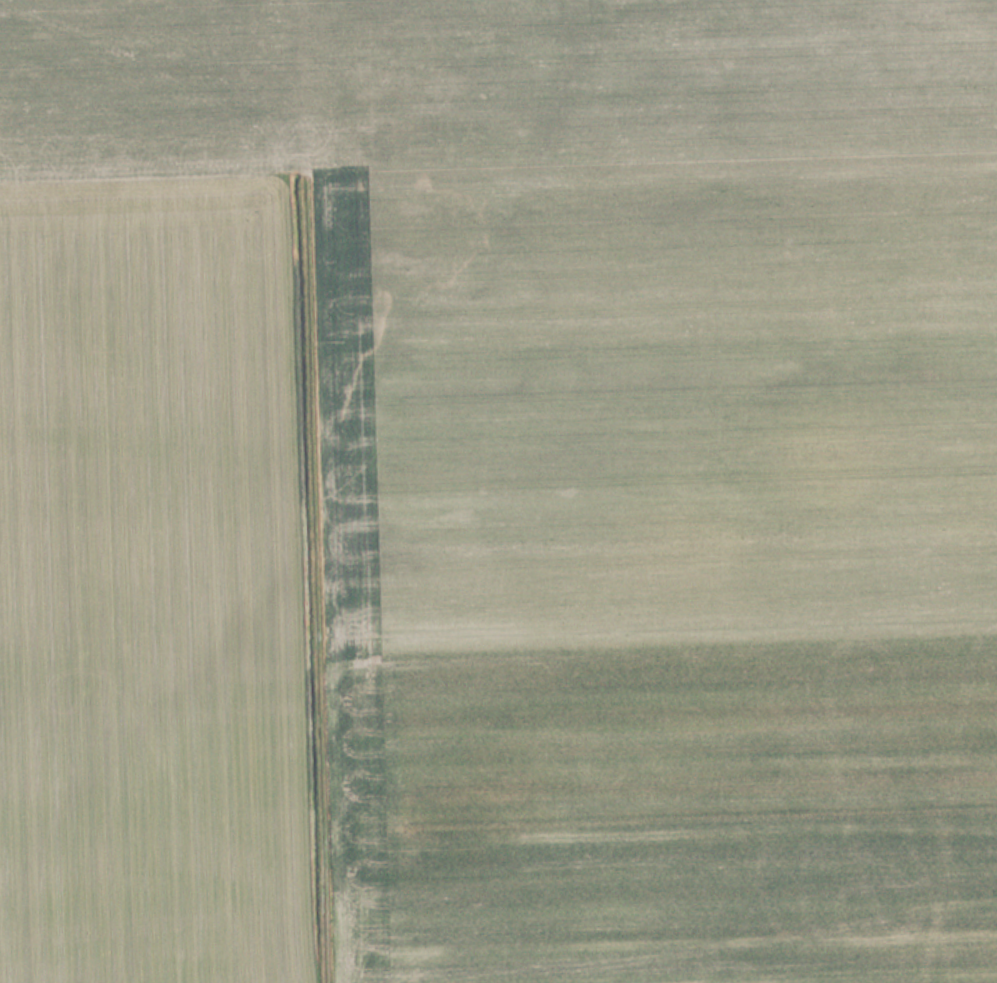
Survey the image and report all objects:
road: (316, 491)

